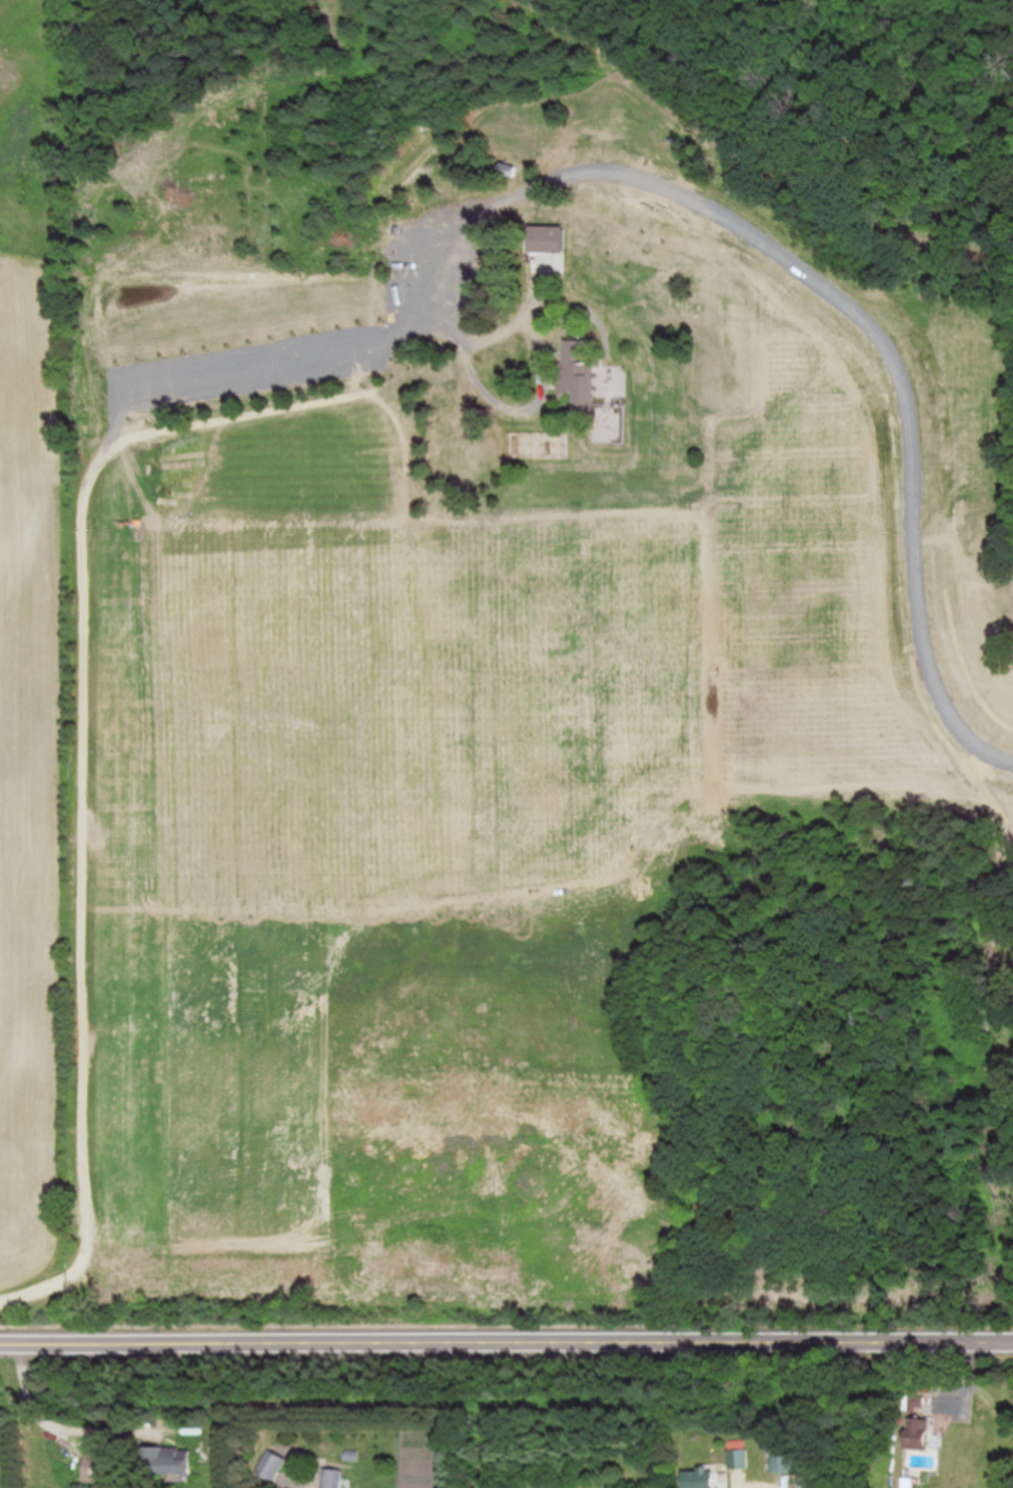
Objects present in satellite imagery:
building: (548, 260)
building: (756, 351)
building: (580, 375)
road: (502, 389)
road: (82, 659)
road: (506, 1343)
building: (916, 1401)
road: (35, 1412)
building: (917, 1432)
building: (739, 1452)
building: (161, 1459)
building: (785, 1459)
building: (270, 1463)
building: (103, 1467)
building: (333, 1477)
building: (699, 1478)
road: (758, 1484)

